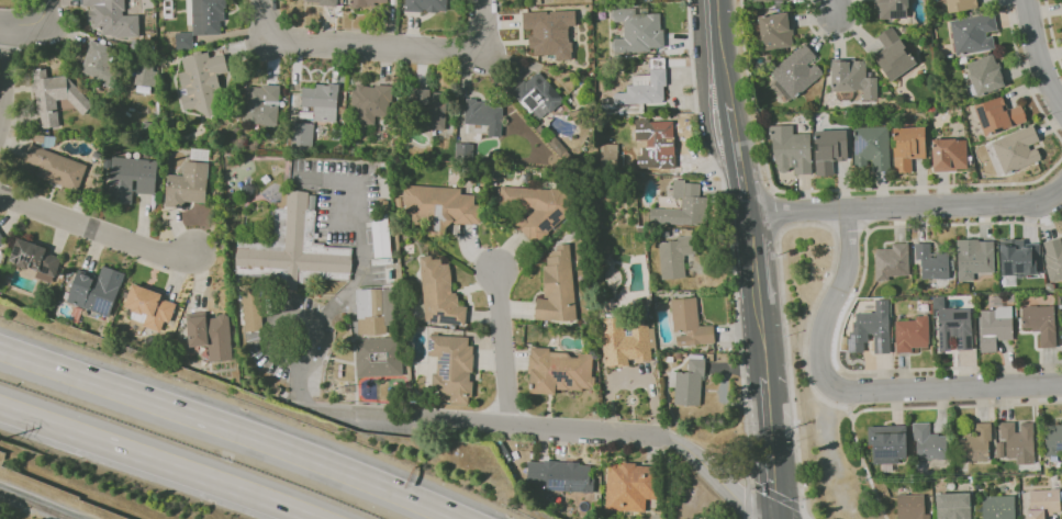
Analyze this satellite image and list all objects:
building: (767, 0)
building: (320, 1)
building: (368, 3)
building: (1061, 3)
building: (425, 5)
building: (961, 5)
road: (835, 8)
building: (893, 9)
building: (206, 16)
building: (111, 18)
road: (36, 26)
road: (2, 27)
road: (483, 27)
building: (774, 30)
building: (637, 31)
road: (1052, 31)
road: (717, 33)
building: (973, 34)
road: (835, 38)
building: (183, 40)
road: (356, 46)
road: (1039, 54)
building: (894, 55)
building: (963, 59)
building: (98, 60)
building: (795, 74)
building: (986, 75)
road: (1026, 75)
building: (144, 78)
building: (852, 79)
building: (200, 81)
road: (3, 83)
road: (725, 83)
building: (645, 86)
building: (537, 94)
building: (56, 97)
building: (321, 101)
building: (369, 103)
building: (259, 104)
building: (428, 109)
building: (484, 115)
building: (999, 115)
road: (704, 123)
building: (301, 134)
road: (735, 135)
building: (653, 138)
rooftop solar panel: (860, 142)
building: (872, 147)
building: (908, 147)
building: (792, 149)
building: (830, 150)
building: (1017, 150)
building: (462, 151)
building: (607, 153)
building: (949, 155)
building: (54, 167)
building: (127, 178)
building: (186, 184)
road: (826, 190)
road: (745, 191)
road: (770, 191)
building: (682, 205)
road: (907, 206)
building: (438, 207)
building: (536, 208)
road: (772, 212)
rooftop solar panel: (555, 214)
rooftop solar panel: (546, 226)
road: (850, 228)
road: (97, 229)
road: (727, 234)
road: (778, 234)
building: (1, 239)
building: (291, 246)
rooftop solar panel: (16, 249)
building: (674, 256)
rooftop solar panel: (30, 258)
building: (974, 258)
building: (1020, 258)
building: (35, 259)
building: (1054, 259)
rooftop solar panel: (18, 260)
road: (752, 260)
building: (892, 262)
building: (932, 262)
rooftop solar panel: (1016, 267)
rooftop solar panel: (1005, 268)
road: (831, 270)
rooftop solar panel: (44, 271)
rooftop solar panel: (119, 275)
building: (556, 286)
building: (96, 291)
building: (438, 293)
building: (1010, 297)
road: (340, 300)
rooftop solar panel: (103, 305)
building: (148, 306)
building: (251, 309)
road: (850, 309)
rooftop solar panel: (445, 316)
building: (687, 324)
building: (1040, 324)
building: (1061, 325)
building: (955, 328)
building: (996, 328)
building: (872, 329)
building: (377, 332)
building: (210, 334)
building: (912, 335)
building: (626, 342)
road: (761, 342)
rooftop solar panel: (431, 343)
road: (504, 348)
road: (315, 349)
rooftop solar panel: (446, 364)
building: (450, 366)
building: (558, 371)
building: (689, 384)
road: (852, 391)
road: (545, 427)
road: (226, 431)
building: (1053, 440)
building: (1018, 441)
building: (929, 442)
building: (888, 443)
building: (975, 444)
rooftop solar panel: (1061, 447)
road: (772, 448)
building: (1000, 450)
rooftop solar panel: (881, 453)
road: (746, 460)
road: (147, 464)
road: (864, 469)
building: (877, 472)
building: (558, 475)
building: (971, 479)
rooftop solar panel: (573, 484)
building: (629, 486)
building: (977, 487)
rooftop solar panel: (557, 490)
road: (746, 492)
road: (775, 496)
building: (1044, 503)
railway: (34, 505)
building: (953, 506)
building: (912, 507)
building: (997, 507)
road: (23, 509)
road: (805, 517)

